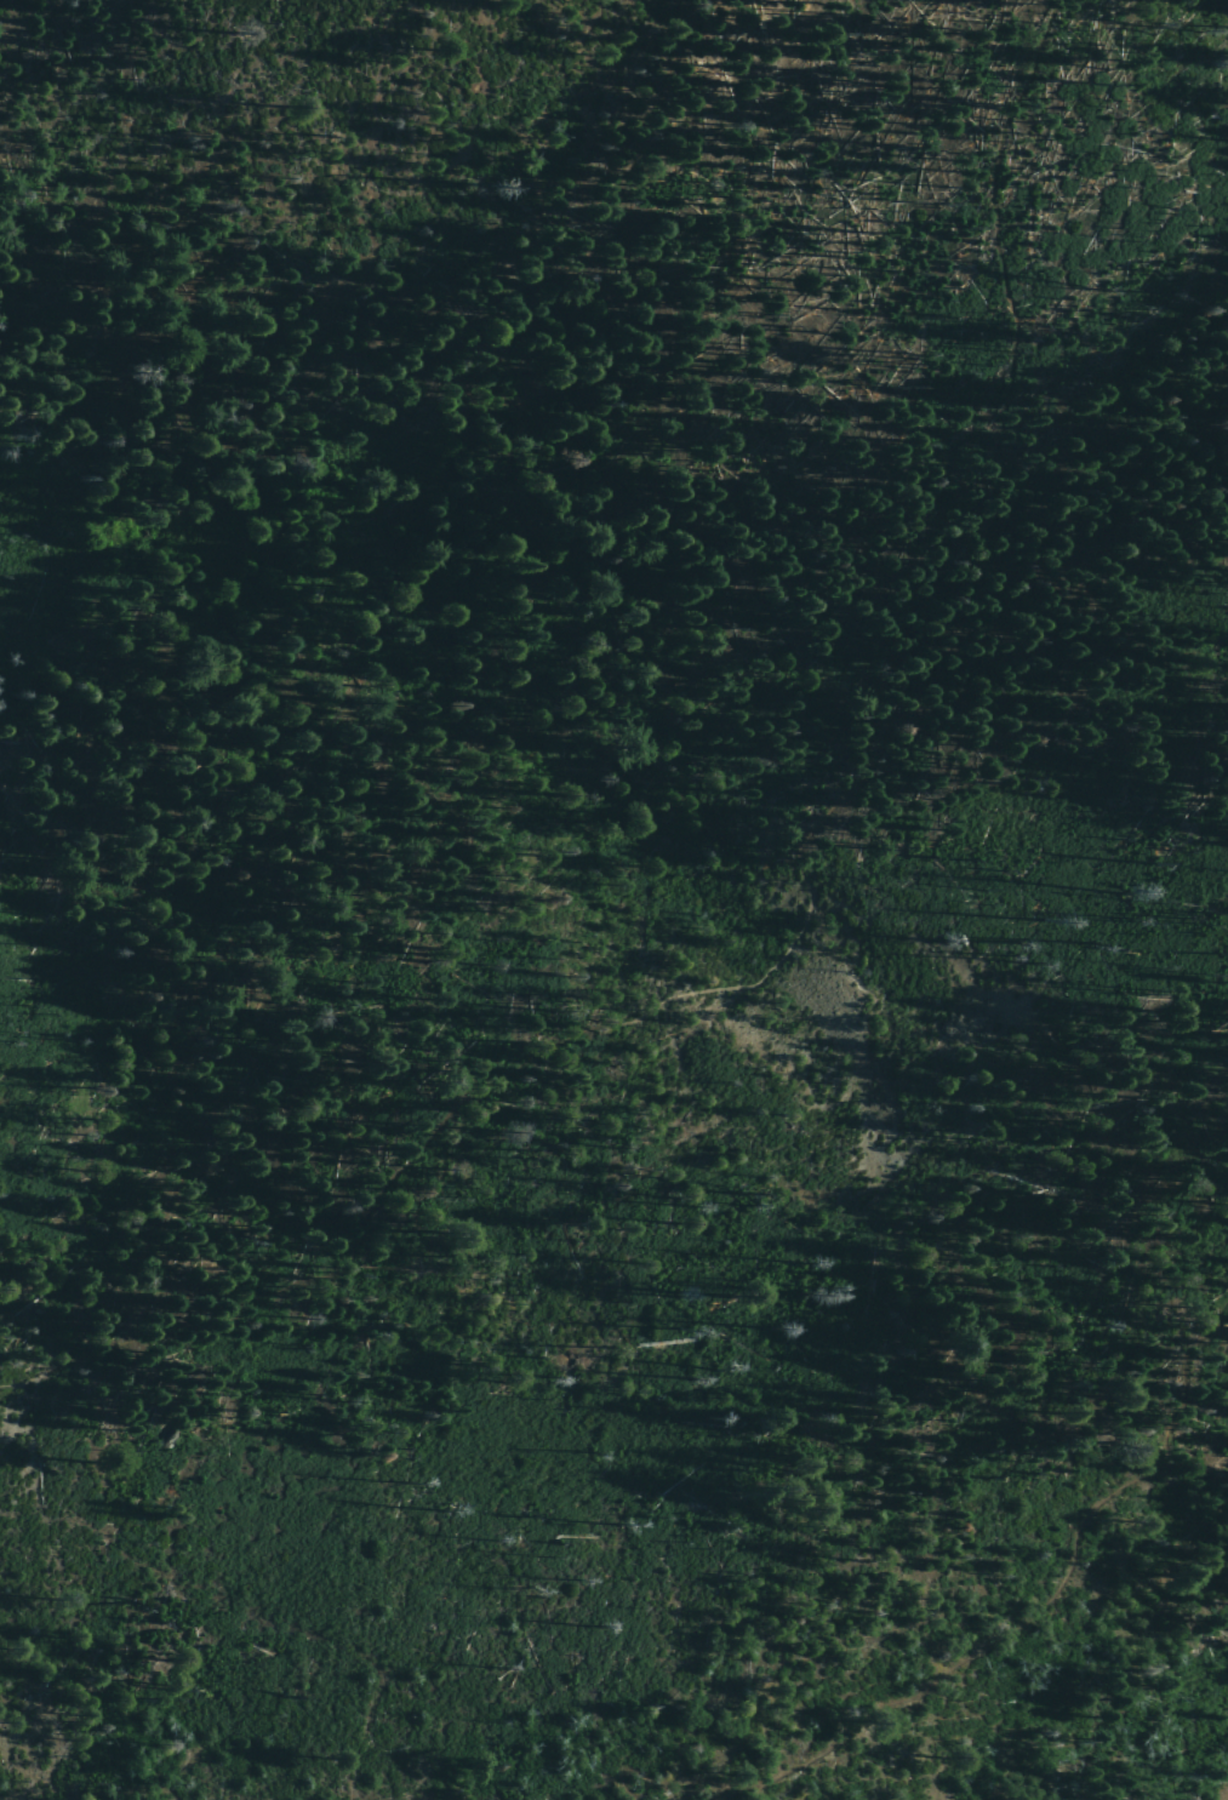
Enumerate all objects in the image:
road: (796, 897)
road: (986, 1646)

